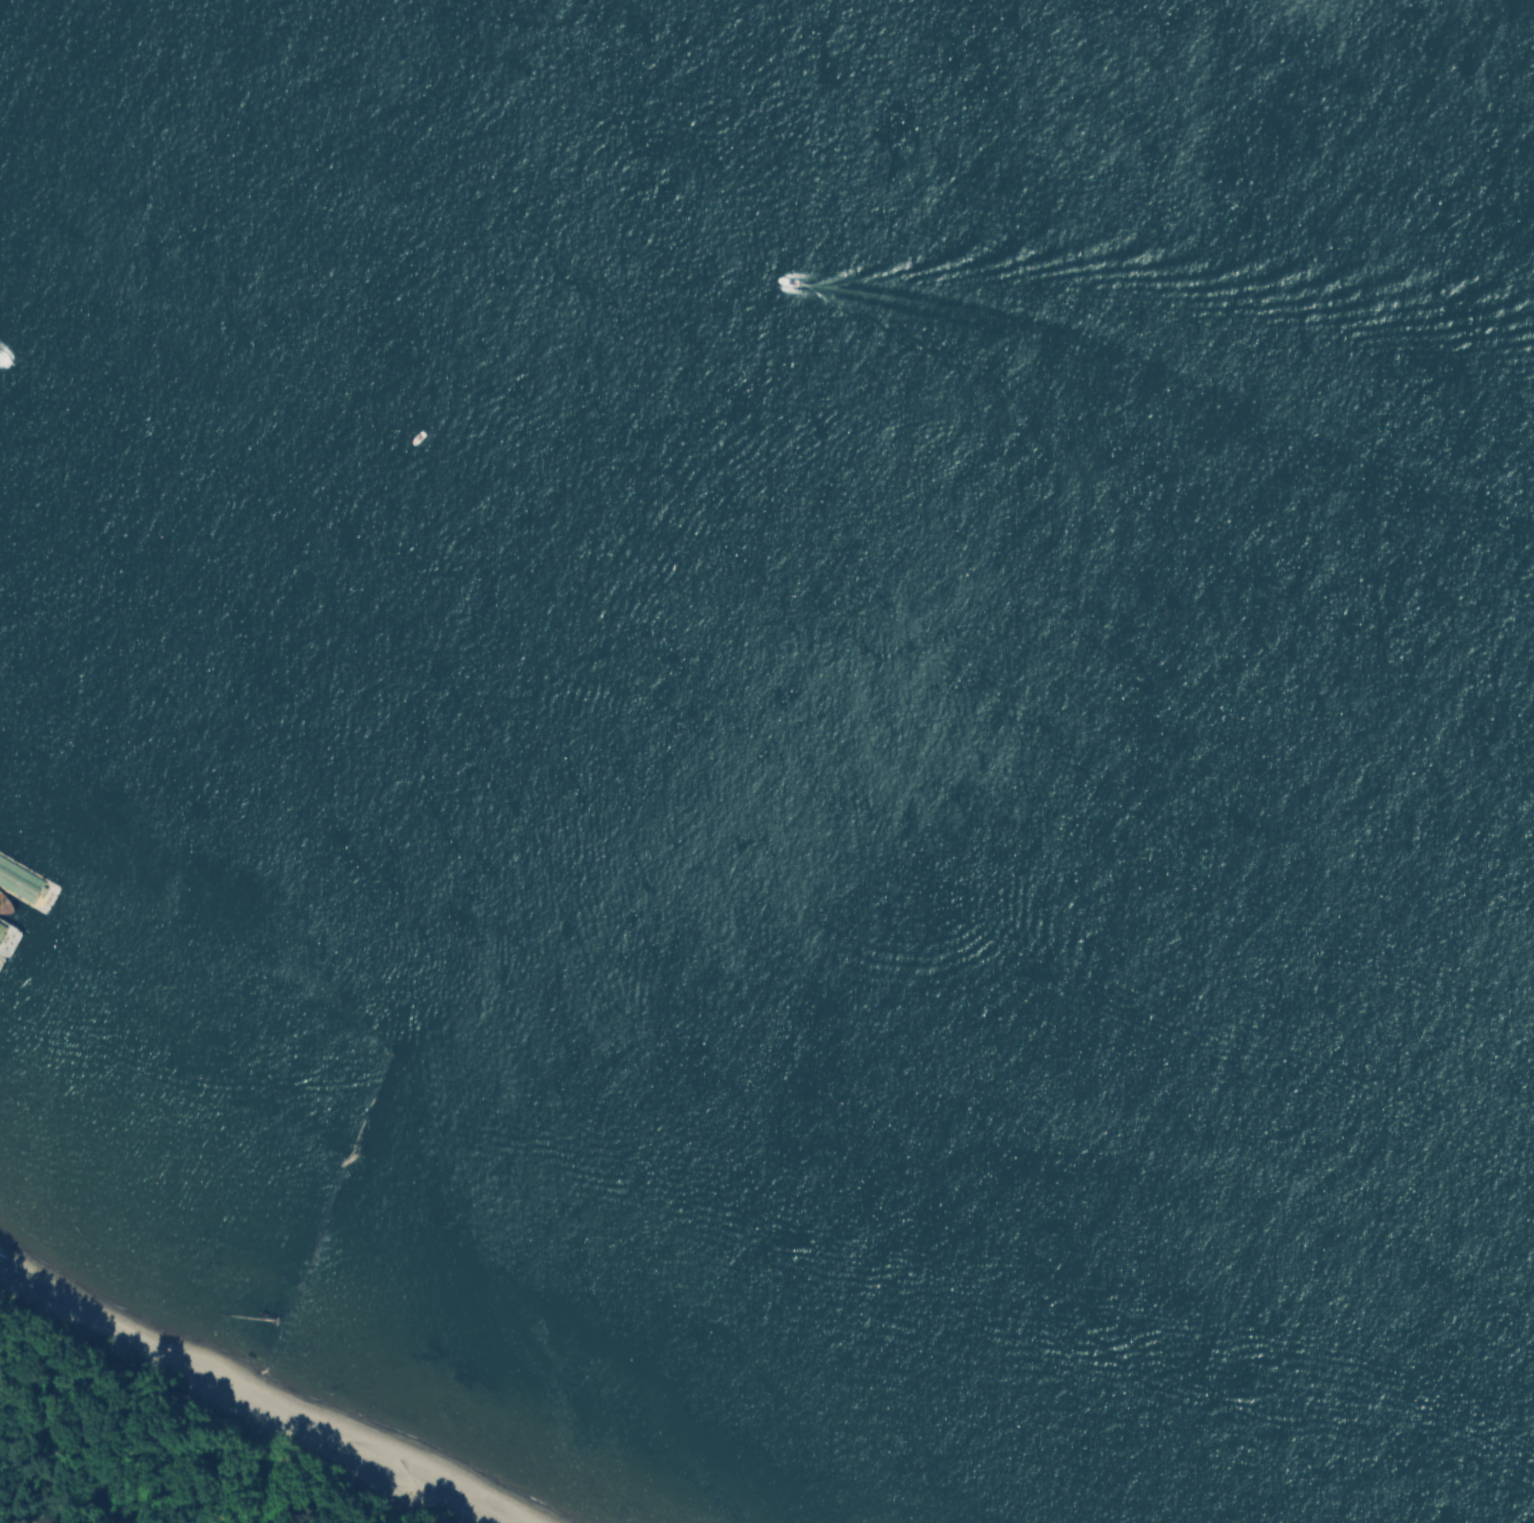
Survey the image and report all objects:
river: (767, 787)
road: (172, 1435)

